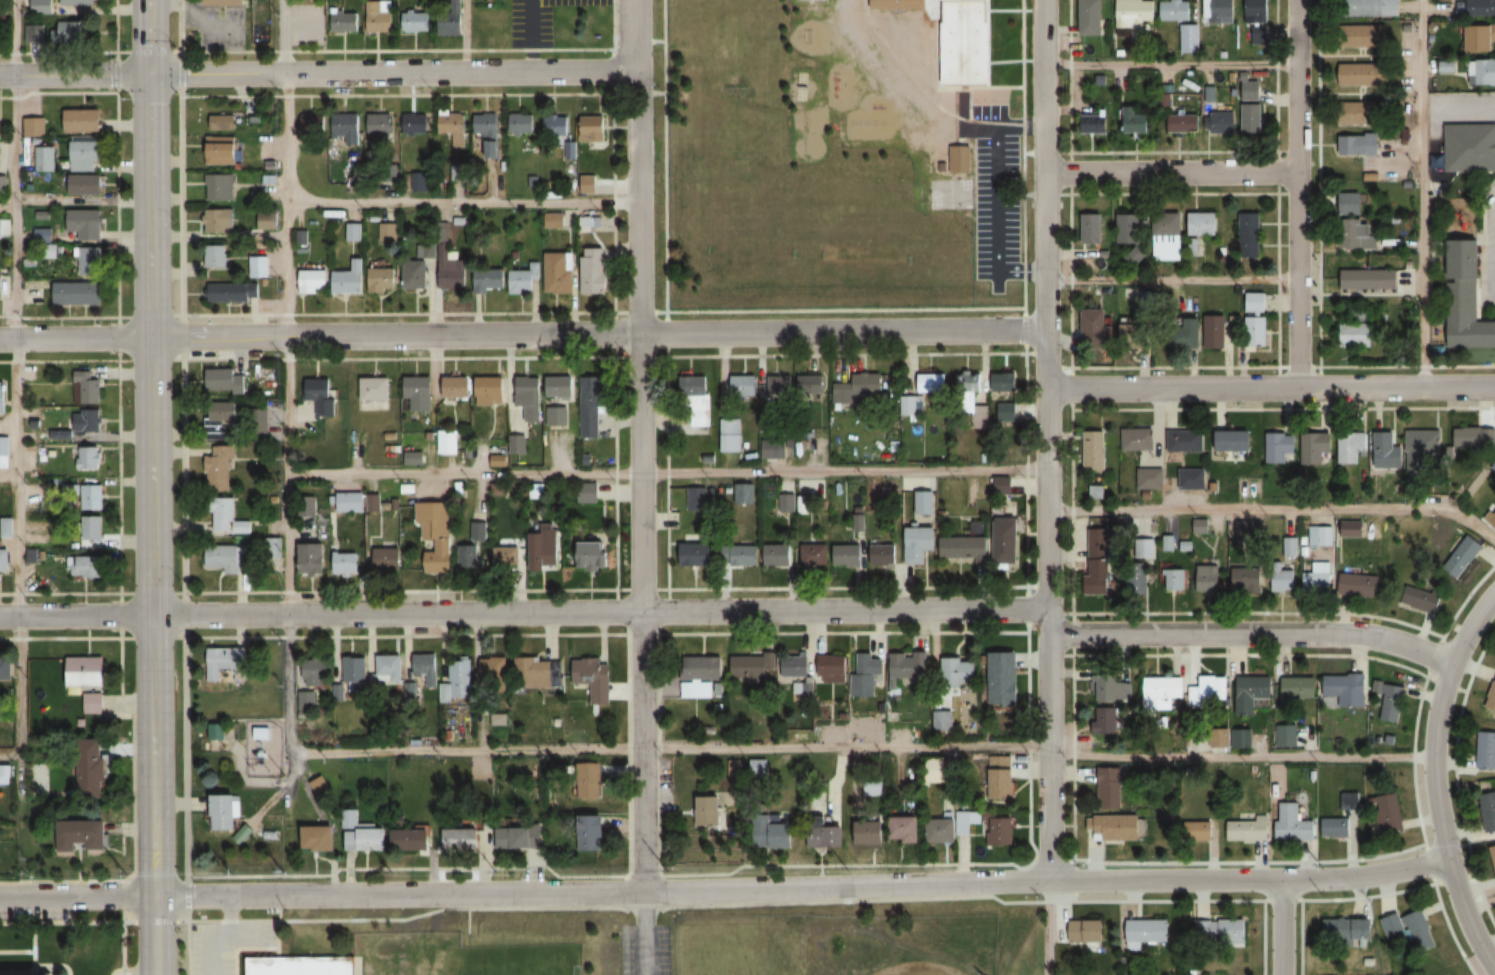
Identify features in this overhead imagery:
building: (809, 0)
road: (1463, 2)
building: (78, 3)
building: (225, 3)
road: (1453, 3)
building: (896, 4)
road: (1424, 5)
parking lot: (1407, 6)
building: (459, 7)
parking lot: (1443, 7)
building: (1372, 8)
building: (1480, 8)
building: (1176, 10)
building: (1218, 11)
building: (1256, 11)
building: (1459, 12)
building: (380, 16)
building: (1090, 17)
building: (1134, 17)
building: (347, 20)
building: (3, 21)
building: (417, 21)
building: (453, 24)
building: (1462, 31)
building: (67, 32)
building: (34, 33)
building: (1363, 36)
building: (1479, 37)
building: (1435, 38)
building: (1189, 39)
road: (1419, 41)
building: (964, 42)
road: (1360, 51)
road: (1364, 51)
road: (1488, 54)
road: (1367, 55)
road: (1354, 59)
road: (1370, 59)
road: (1169, 65)
road: (1430, 66)
building: (1445, 67)
road: (392, 72)
road: (1460, 72)
building: (1482, 72)
road: (1419, 73)
road: (73, 74)
traffic signals: (148, 74)
road: (1069, 75)
building: (1362, 75)
parking lot: (1408, 75)
road: (1467, 83)
road: (1483, 89)
road: (1360, 94)
road: (1364, 94)
road: (1367, 94)
road: (14, 104)
parking lot: (1458, 110)
road: (1419, 111)
building: (1362, 114)
road: (1425, 116)
road: (1461, 116)
building: (1253, 118)
building: (82, 120)
building: (223, 122)
building: (1143, 122)
building: (1223, 122)
building: (312, 123)
building: (379, 123)
building: (454, 123)
building: (522, 123)
building: (1183, 123)
building: (413, 124)
building: (556, 124)
building: (1098, 124)
road: (1461, 125)
road: (976, 126)
road: (1019, 126)
building: (34, 127)
building: (345, 128)
building: (592, 129)
building: (488, 133)
road: (1323, 145)
building: (1358, 147)
building: (1469, 148)
building: (221, 150)
road: (1046, 152)
road: (1021, 154)
building: (85, 155)
road: (1418, 157)
parking lot: (1394, 158)
building: (43, 159)
building: (960, 160)
building: (941, 167)
building: (1368, 171)
road: (1169, 173)
building: (1375, 174)
building: (1407, 182)
building: (588, 183)
building: (85, 185)
building: (218, 187)
road: (1320, 187)
road: (1485, 187)
parking lot: (1490, 189)
road: (1295, 193)
road: (1423, 193)
park: (948, 194)
parking lot: (993, 194)
road: (1153, 194)
road: (1152, 198)
road: (1481, 198)
road: (1196, 199)
road: (1308, 202)
road: (1120, 203)
building: (1348, 203)
road: (461, 204)
road: (996, 207)
road: (7, 210)
road: (1349, 216)
road: (1484, 217)
building: (220, 220)
building: (267, 220)
building: (555, 221)
building: (589, 223)
building: (1201, 223)
road: (1274, 223)
building: (85, 224)
building: (1, 228)
building: (1090, 228)
road: (1104, 230)
building: (385, 232)
building: (352, 233)
building: (1130, 234)
building: (1165, 235)
building: (1249, 235)
building: (1356, 235)
road: (284, 237)
road: (1273, 245)
building: (1193, 246)
building: (1105, 247)
parking lot: (1089, 250)
parking lot: (1490, 251)
road: (1059, 252)
parking lot: (1198, 255)
building: (216, 257)
park: (864, 257)
park: (749, 258)
building: (90, 261)
road: (1071, 262)
building: (257, 266)
road: (1170, 269)
road: (1122, 270)
building: (593, 271)
road: (1021, 271)
building: (451, 272)
building: (559, 273)
road: (1196, 273)
building: (414, 275)
road: (1170, 278)
building: (1367, 278)
building: (349, 279)
parking lot: (1314, 279)
building: (2, 280)
building: (382, 280)
building: (489, 280)
road: (1279, 280)
building: (312, 281)
building: (521, 281)
parking lot: (1408, 281)
road: (1414, 281)
road: (1358, 291)
road: (1378, 291)
building: (233, 292)
building: (77, 294)
road: (1367, 294)
building: (1145, 297)
building: (1465, 298)
parking lot: (1278, 303)
road: (1291, 305)
road: (687, 311)
road: (638, 312)
road: (1302, 312)
parking lot: (1330, 312)
building: (1357, 313)
building: (1254, 321)
building: (1092, 329)
road: (1023, 330)
building: (1133, 331)
building: (1213, 332)
road: (1272, 332)
building: (1354, 333)
road: (664, 334)
building: (1183, 334)
road: (1324, 334)
road: (597, 335)
road: (74, 338)
road: (15, 344)
parking lot: (1227, 344)
building: (1240, 345)
road: (1269, 349)
road: (1357, 350)
road: (1133, 355)
parking lot: (1243, 357)
road: (1365, 366)
road: (1463, 366)
road: (1173, 367)
road: (1102, 371)
road: (1228, 376)
road: (1244, 376)
building: (225, 381)
building: (932, 383)
building: (1003, 383)
building: (811, 385)
building: (560, 387)
building: (744, 387)
building: (779, 387)
road: (1270, 387)
building: (87, 388)
building: (456, 388)
building: (857, 388)
building: (374, 390)
building: (490, 391)
building: (320, 395)
building: (418, 395)
building: (3, 398)
building: (697, 400)
building: (977, 402)
building: (911, 406)
building: (590, 407)
building: (524, 410)
building: (1005, 412)
building: (557, 416)
building: (219, 419)
building: (85, 420)
building: (730, 435)
building: (1474, 438)
road: (1045, 439)
building: (1136, 440)
building: (1234, 440)
building: (1185, 441)
building: (447, 442)
road: (638, 444)
building: (1278, 445)
road: (149, 447)
building: (1315, 447)
building: (1350, 447)
building: (771, 449)
building: (1093, 449)
building: (4, 450)
building: (1387, 451)
building: (1420, 451)
building: (89, 457)
building: (218, 468)
road: (666, 474)
building: (1149, 478)
road: (8, 479)
building: (1191, 479)
building: (1002, 485)
road: (182, 487)
building: (589, 492)
building: (743, 493)
building: (91, 497)
building: (696, 498)
building: (349, 502)
building: (372, 503)
road: (1275, 509)
building: (1491, 517)
building: (227, 518)
building: (6, 527)
building: (1200, 527)
building: (88, 529)
building: (1249, 530)
building: (477, 531)
building: (435, 534)
building: (1322, 536)
building: (1005, 541)
building: (919, 544)
building: (544, 547)
building: (964, 547)
building: (1146, 549)
building: (695, 554)
building: (740, 554)
building: (777, 554)
building: (815, 555)
building: (848, 555)
building: (884, 555)
building: (591, 556)
building: (1463, 556)
building: (310, 558)
building: (469, 558)
building: (507, 558)
building: (232, 559)
building: (387, 559)
building: (4, 562)
building: (1099, 562)
building: (346, 563)
building: (85, 567)
building: (1208, 579)
building: (1175, 580)
building: (1247, 580)
building: (1284, 580)
building: (1137, 583)
building: (1318, 584)
building: (1360, 585)
road: (535, 589)
building: (1424, 601)
road: (522, 612)
road: (17, 616)
road: (1250, 634)
road: (83, 637)
road: (287, 644)
building: (225, 661)
building: (793, 666)
building: (701, 667)
building: (751, 667)
building: (908, 667)
building: (387, 668)
building: (830, 669)
building: (5, 670)
building: (493, 670)
building: (958, 671)
building: (85, 673)
building: (314, 673)
building: (354, 673)
building: (537, 673)
building: (865, 676)
building: (458, 679)
building: (594, 679)
building: (1003, 679)
building: (1113, 688)
building: (1205, 689)
building: (696, 690)
building: (1254, 690)
building: (1346, 690)
building: (1297, 691)
building: (1159, 692)
building: (1491, 698)
building: (306, 701)
building: (92, 702)
building: (1391, 704)
building: (940, 721)
building: (1107, 722)
building: (221, 733)
road: (860, 748)
building: (1485, 750)
road: (8, 755)
building: (757, 767)
building: (89, 768)
building: (936, 770)
building: (1002, 778)
road: (1434, 779)
building: (588, 781)
building: (317, 786)
building: (1111, 788)
building: (1488, 810)
building: (706, 811)
building: (224, 813)
building: (1388, 814)
road: (17, 825)
building: (1293, 825)
building: (1118, 828)
building: (1246, 828)
building: (1336, 828)
building: (906, 830)
building: (942, 831)
building: (1198, 831)
building: (1001, 832)
building: (870, 833)
building: (364, 834)
building: (590, 834)
building: (81, 835)
building: (776, 836)
building: (826, 836)
building: (318, 838)
building: (521, 838)
building: (461, 839)
building: (411, 840)
building: (1493, 849)
road: (1248, 879)
road: (600, 890)
road: (77, 894)
road: (756, 903)
road: (66, 921)
road: (153, 921)
building: (1409, 926)
road: (1281, 927)
building: (1221, 928)
building: (1087, 930)
building: (1349, 930)
road: (643, 932)
building: (1146, 932)
road: (154, 934)
road: (226, 934)
parking lot: (644, 949)
building: (304, 966)
building: (841, 973)
building: (21, 974)

